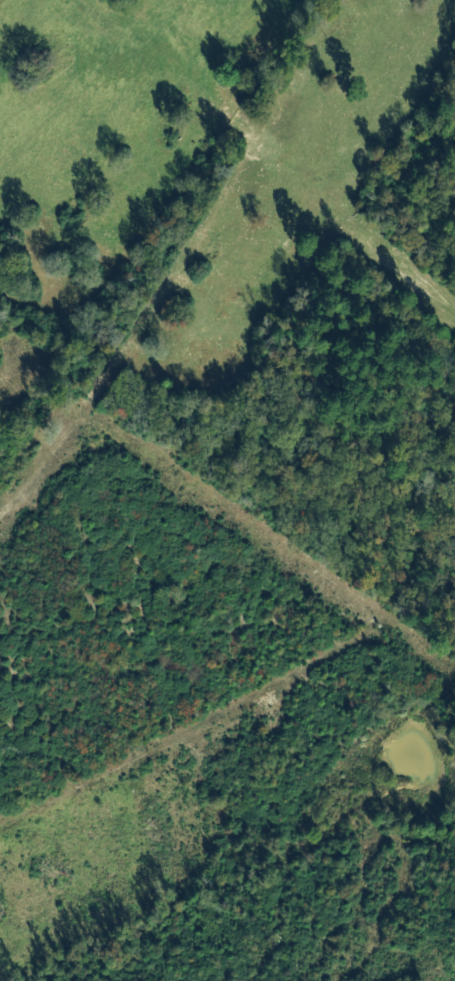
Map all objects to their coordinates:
road: (189, 270)

